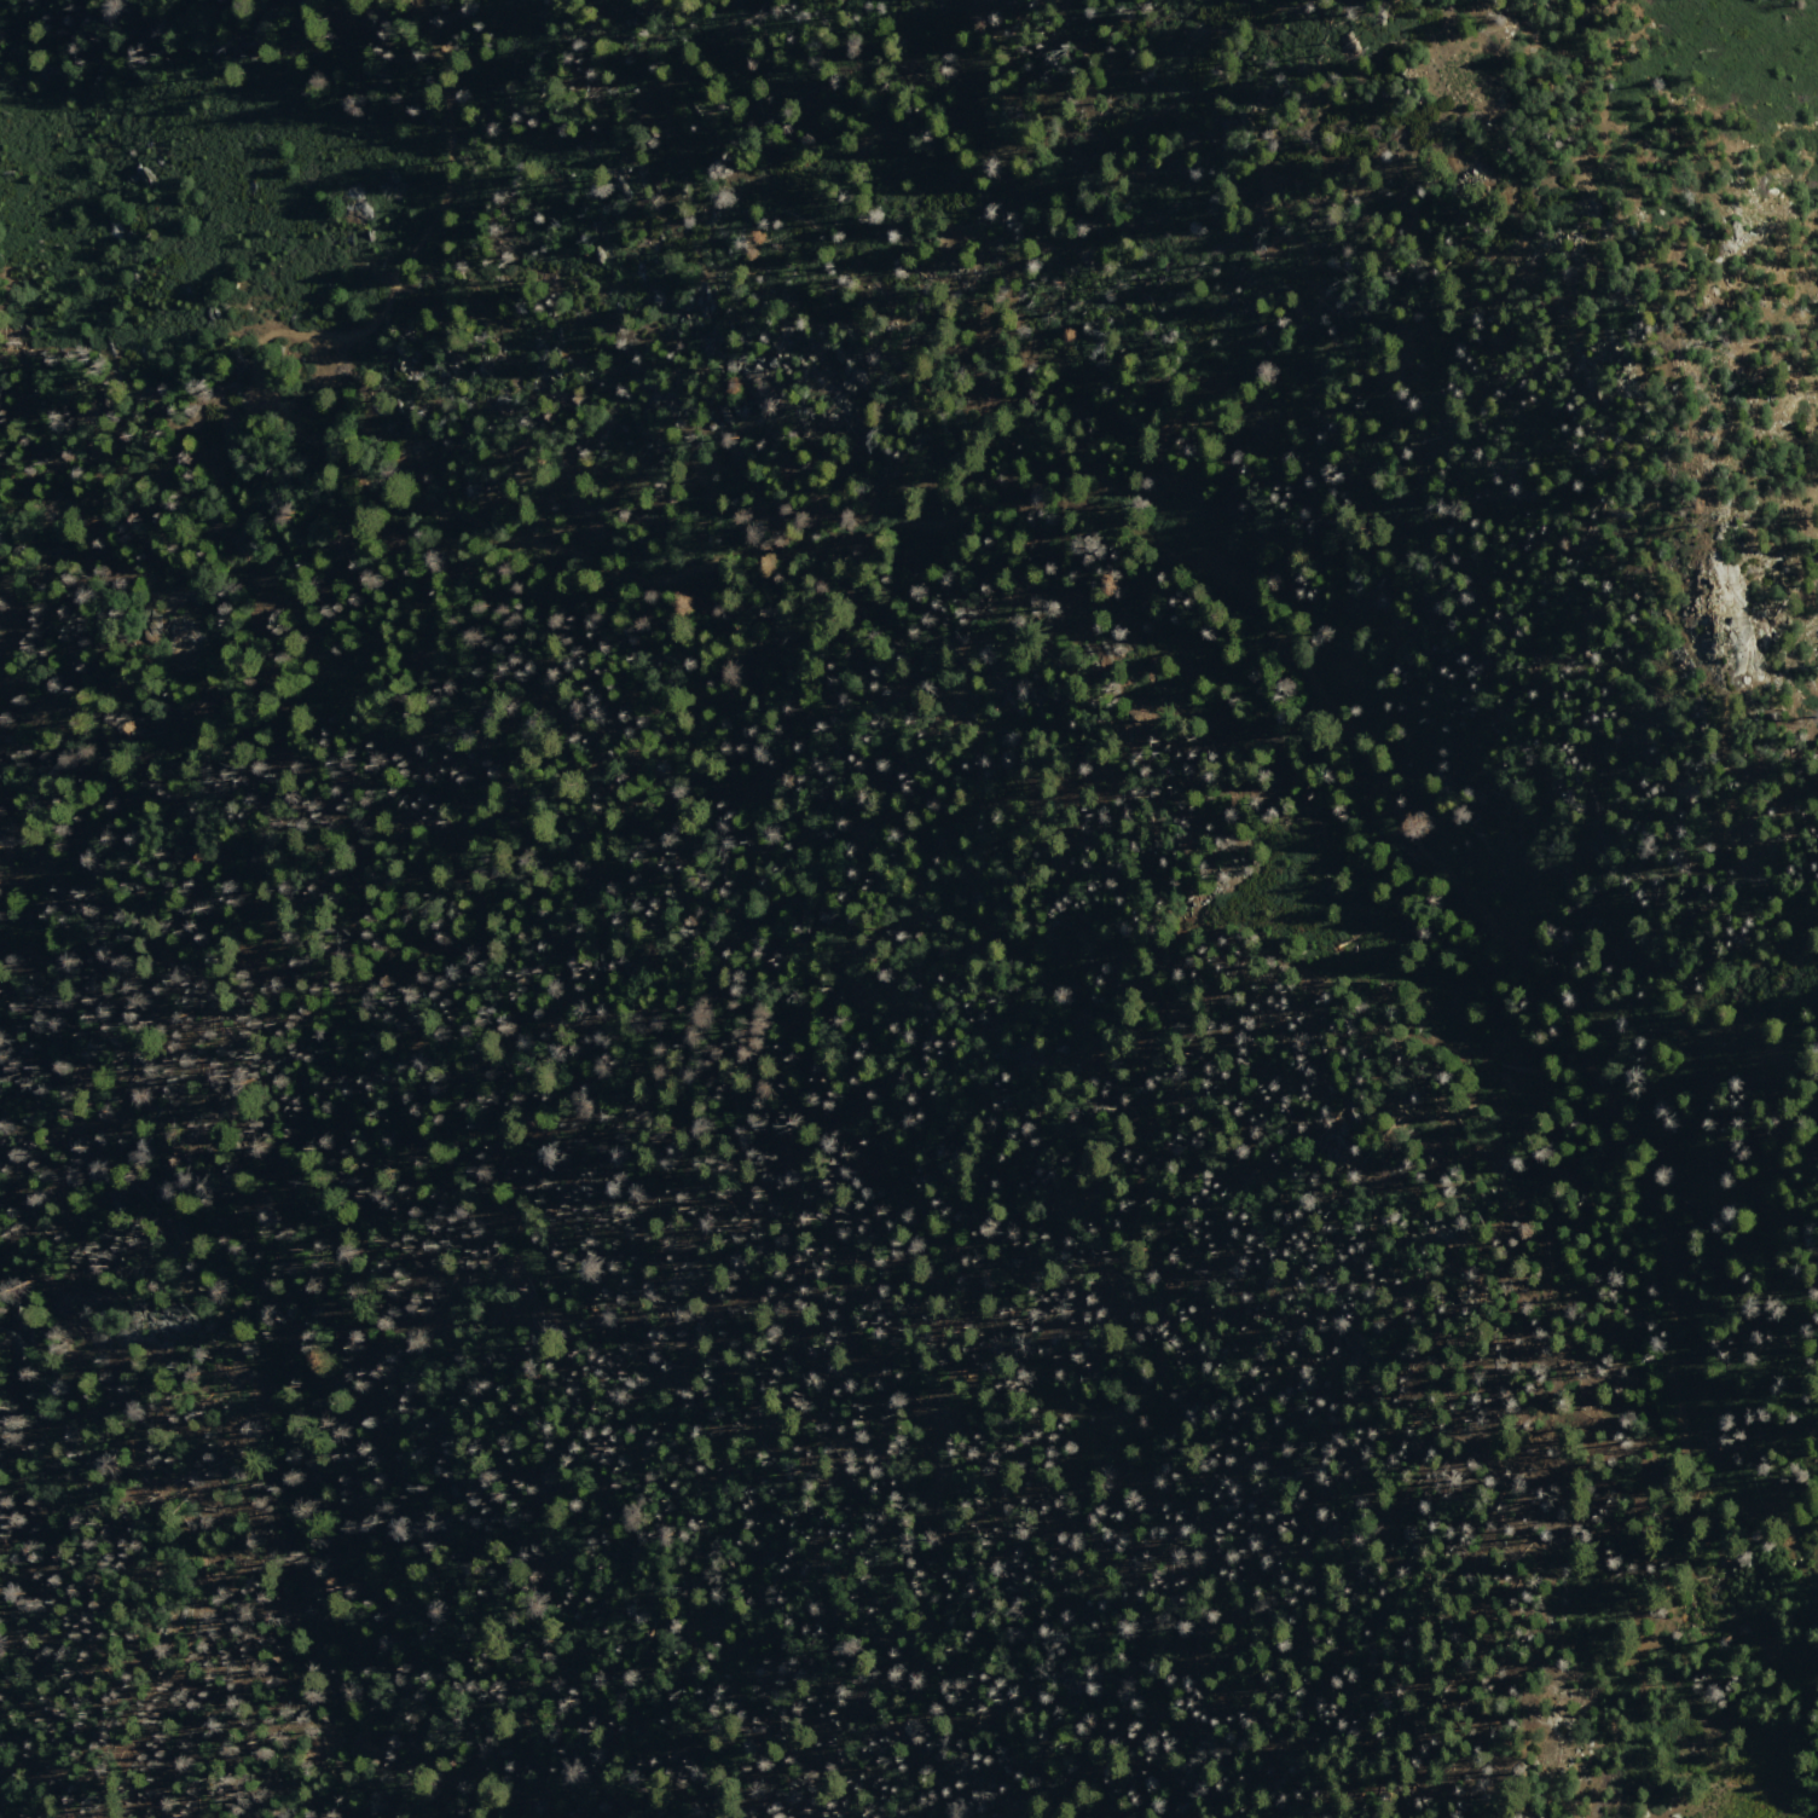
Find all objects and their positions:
road: (1704, 1419)

